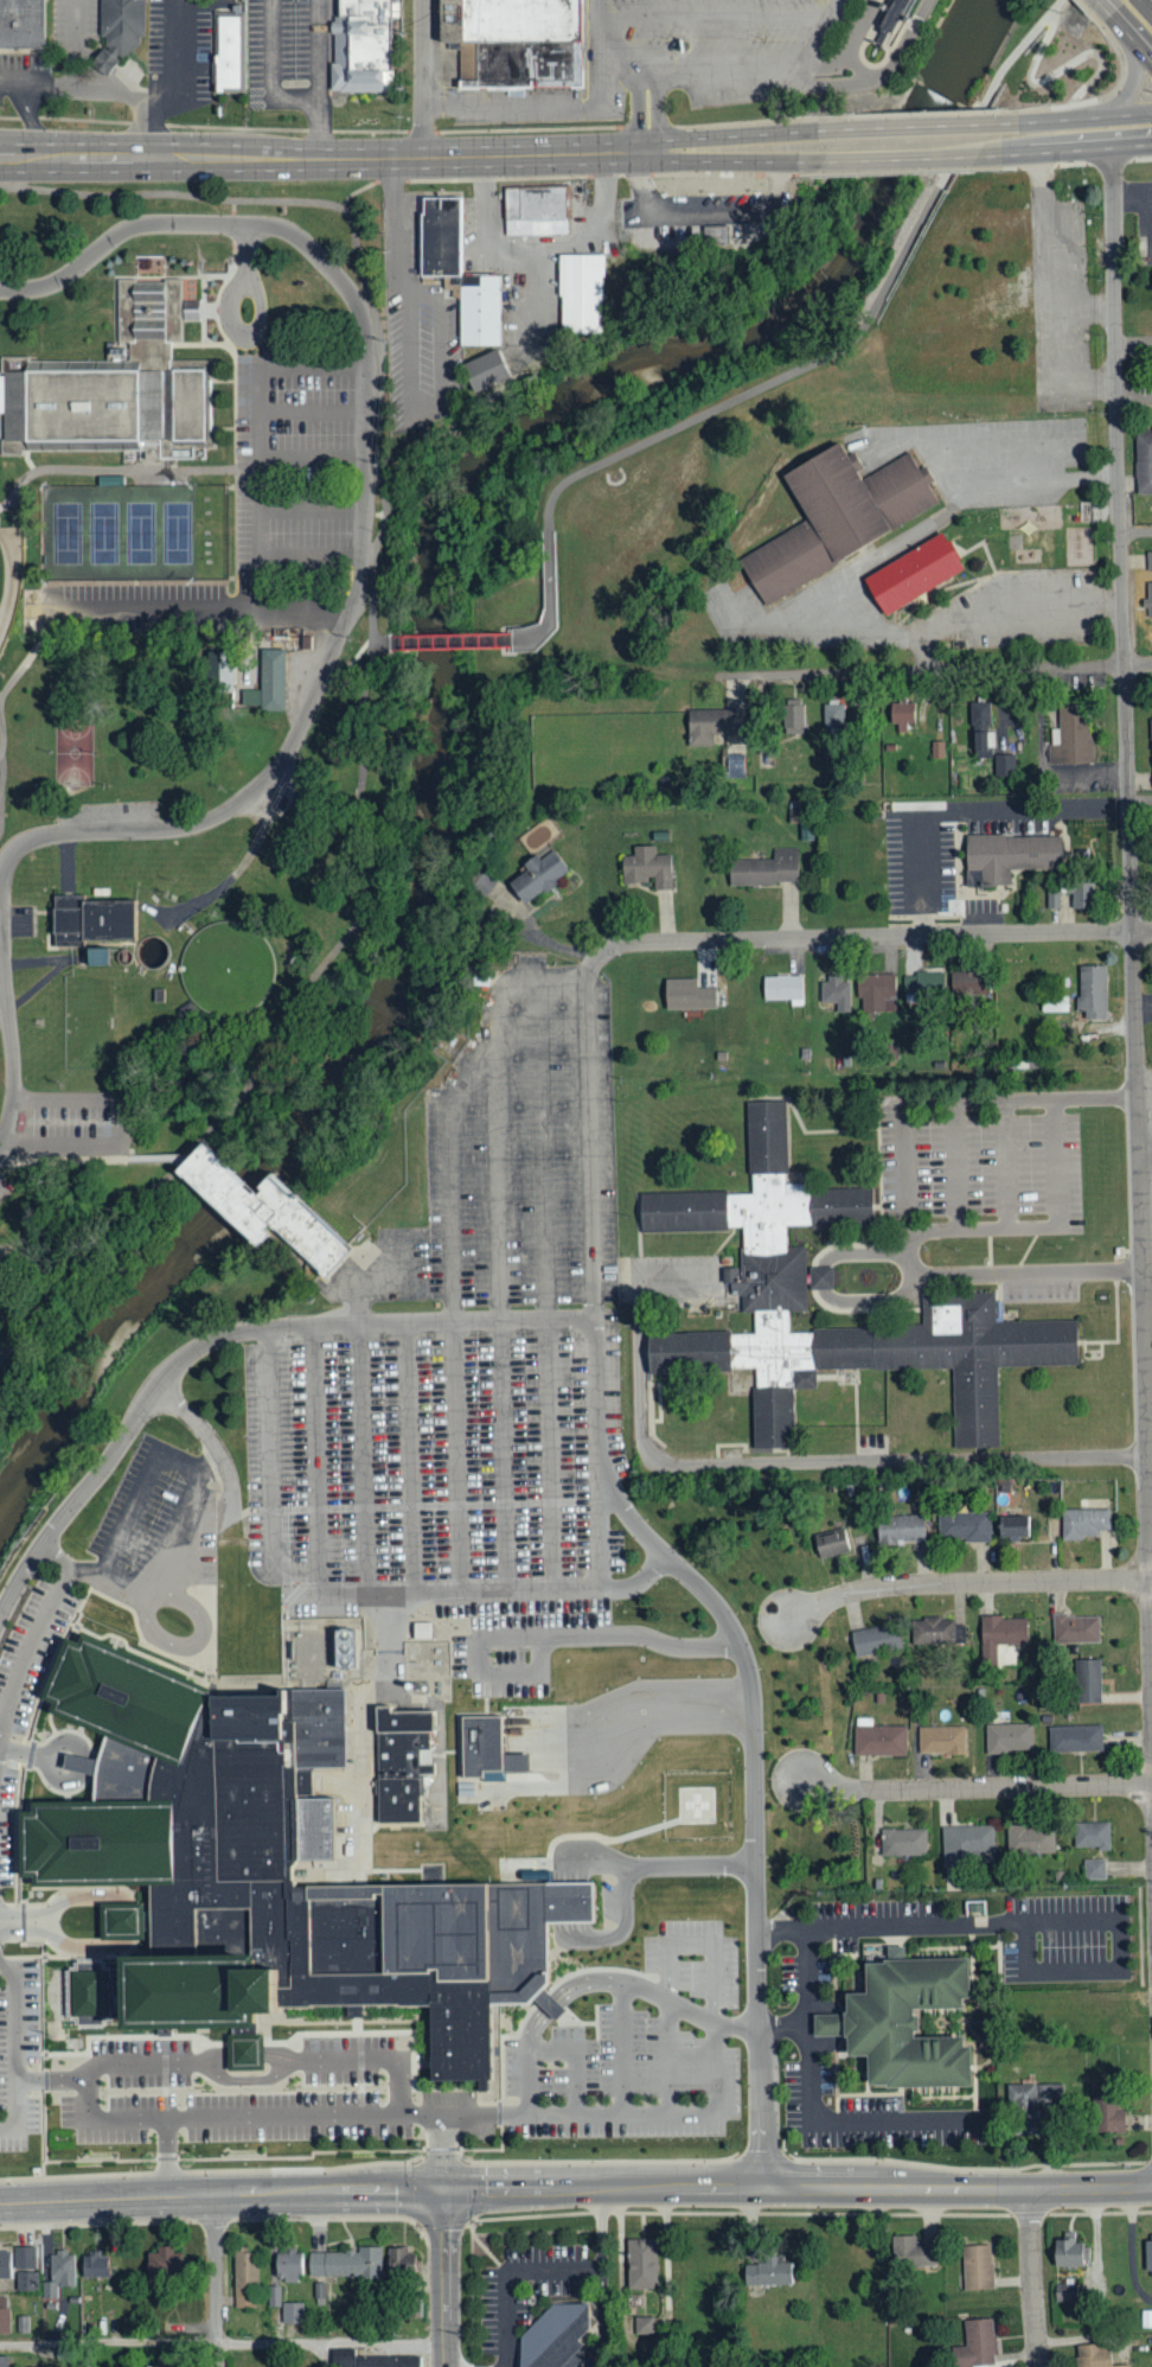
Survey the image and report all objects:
road: (1058, 4)
road: (1107, 6)
road: (1144, 8)
road: (715, 17)
building: (889, 19)
building: (23, 25)
building: (120, 31)
road: (1132, 33)
building: (516, 43)
road: (849, 43)
road: (76, 44)
building: (364, 45)
parking lot: (185, 49)
building: (231, 50)
parking lot: (281, 55)
parking lot: (51, 57)
road: (601, 57)
road: (178, 60)
parking lot: (679, 60)
road: (1122, 64)
road: (826, 65)
road: (761, 66)
road: (1058, 72)
road: (273, 74)
road: (877, 75)
road: (8, 78)
road: (320, 78)
road: (424, 79)
road: (111, 94)
road: (1119, 98)
road: (531, 106)
road: (658, 107)
road: (638, 108)
road: (31, 119)
road: (1077, 119)
road: (913, 128)
road: (748, 135)
road: (667, 145)
road: (1081, 149)
road: (329, 159)
road: (917, 159)
road: (740, 161)
building: (535, 209)
road: (704, 212)
building: (713, 230)
building: (441, 235)
road: (530, 255)
road: (354, 256)
road: (397, 280)
building: (578, 292)
building: (481, 307)
road: (230, 320)
building: (484, 368)
road: (800, 368)
building: (119, 387)
road: (1133, 395)
road: (1003, 444)
building: (1143, 464)
park: (168, 479)
road: (1039, 479)
road: (363, 502)
building: (837, 515)
road: (252, 529)
road: (1135, 530)
park: (60, 535)
park: (101, 535)
park: (141, 535)
park: (178, 535)
road: (866, 557)
building: (1148, 561)
park: (2, 567)
building: (913, 570)
building: (546, 598)
building: (1150, 599)
road: (1001, 604)
road: (300, 612)
road: (823, 624)
road: (453, 640)
building: (306, 645)
road: (934, 670)
building: (218, 681)
building: (267, 683)
river: (436, 695)
building: (900, 715)
building: (833, 716)
building: (979, 717)
building: (792, 720)
building: (708, 726)
building: (1151, 729)
building: (1070, 736)
building: (981, 746)
building: (937, 749)
park: (73, 751)
building: (1004, 765)
building: (734, 766)
road: (1140, 799)
road: (965, 809)
building: (806, 831)
building: (1010, 855)
building: (1082, 855)
road: (245, 861)
building: (647, 867)
building: (764, 868)
building: (536, 876)
building: (484, 881)
road: (1131, 888)
building: (1081, 894)
building: (1054, 899)
road: (860, 938)
building: (92, 956)
building: (964, 981)
building: (923, 984)
building: (783, 988)
building: (1092, 990)
building: (836, 993)
building: (876, 993)
building: (687, 995)
building: (1054, 1003)
road: (275, 1031)
road: (8, 1033)
building: (890, 1048)
road: (1145, 1151)
road: (1058, 1161)
road: (1005, 1162)
road: (955, 1163)
parking lot: (986, 1176)
road: (907, 1186)
building: (260, 1211)
road: (984, 1226)
road: (452, 1242)
building: (768, 1274)
building: (820, 1277)
road: (677, 1281)
road: (593, 1284)
road: (548, 1285)
road: (825, 1288)
road: (499, 1306)
road: (220, 1336)
parking lot: (467, 1374)
road: (1148, 1389)
road: (209, 1443)
road: (314, 1457)
road: (409, 1459)
road: (361, 1460)
road: (809, 1460)
building: (1083, 1523)
building: (964, 1526)
building: (1013, 1526)
building: (900, 1529)
building: (831, 1543)
road: (663, 1546)
road: (81, 1574)
road: (124, 1582)
road: (968, 1583)
road: (315, 1587)
road: (160, 1596)
building: (1075, 1628)
building: (420, 1631)
building: (937, 1631)
building: (999, 1635)
building: (875, 1639)
road: (478, 1641)
road: (676, 1646)
building: (434, 1667)
parking lot: (26, 1672)
building: (1088, 1680)
road: (657, 1703)
road: (357, 1705)
building: (1009, 1737)
building: (878, 1738)
building: (1075, 1738)
building: (940, 1740)
building: (484, 1742)
road: (23, 1754)
building: (402, 1759)
road: (79, 1765)
road: (977, 1788)
helipad: (697, 1801)
building: (1092, 1835)
building: (1030, 1839)
building: (903, 1842)
building: (965, 1844)
road: (751, 1862)
building: (1094, 1869)
building: (264, 1871)
road: (574, 1872)
building: (975, 1907)
road: (137, 1915)
road: (26, 1923)
road: (936, 1923)
road: (690, 1946)
road: (1074, 1967)
road: (657, 1998)
road: (553, 2005)
building: (901, 2021)
road: (801, 2022)
parking lot: (789, 2023)
road: (777, 2025)
parking lot: (640, 2029)
road: (620, 2050)
road: (575, 2060)
road: (193, 2065)
road: (15, 2074)
road: (247, 2079)
parking lot: (56, 2085)
building: (1049, 2092)
parking lot: (384, 2094)
building: (1023, 2106)
road: (15, 2112)
road: (621, 2117)
road: (900, 2117)
building: (1109, 2119)
road: (467, 2120)
road: (294, 2126)
helipad: (248, 2127)
road: (444, 2157)
road: (799, 2191)
traffic signals: (447, 2194)
road: (223, 2195)
building: (1069, 2252)
building: (910, 2253)
building: (25, 2258)
building: (1147, 2258)
building: (398, 2261)
building: (162, 2264)
building: (345, 2264)
building: (640, 2264)
building: (94, 2265)
building: (5, 2266)
building: (288, 2266)
building: (977, 2267)
road: (545, 2269)
building: (768, 2273)
building: (59, 2275)
building: (244, 2278)
road: (1031, 2279)
road: (216, 2280)
road: (447, 2280)
building: (27, 2282)
building: (1065, 2292)
building: (274, 2296)
building: (292, 2312)
building: (4, 2315)
building: (1146, 2318)
building: (644, 2325)
building: (553, 2337)
road: (645, 2340)
road: (223, 2342)
building: (975, 2346)
road: (327, 2354)
building: (1094, 2356)
building: (4, 2361)
building: (388, 2361)

